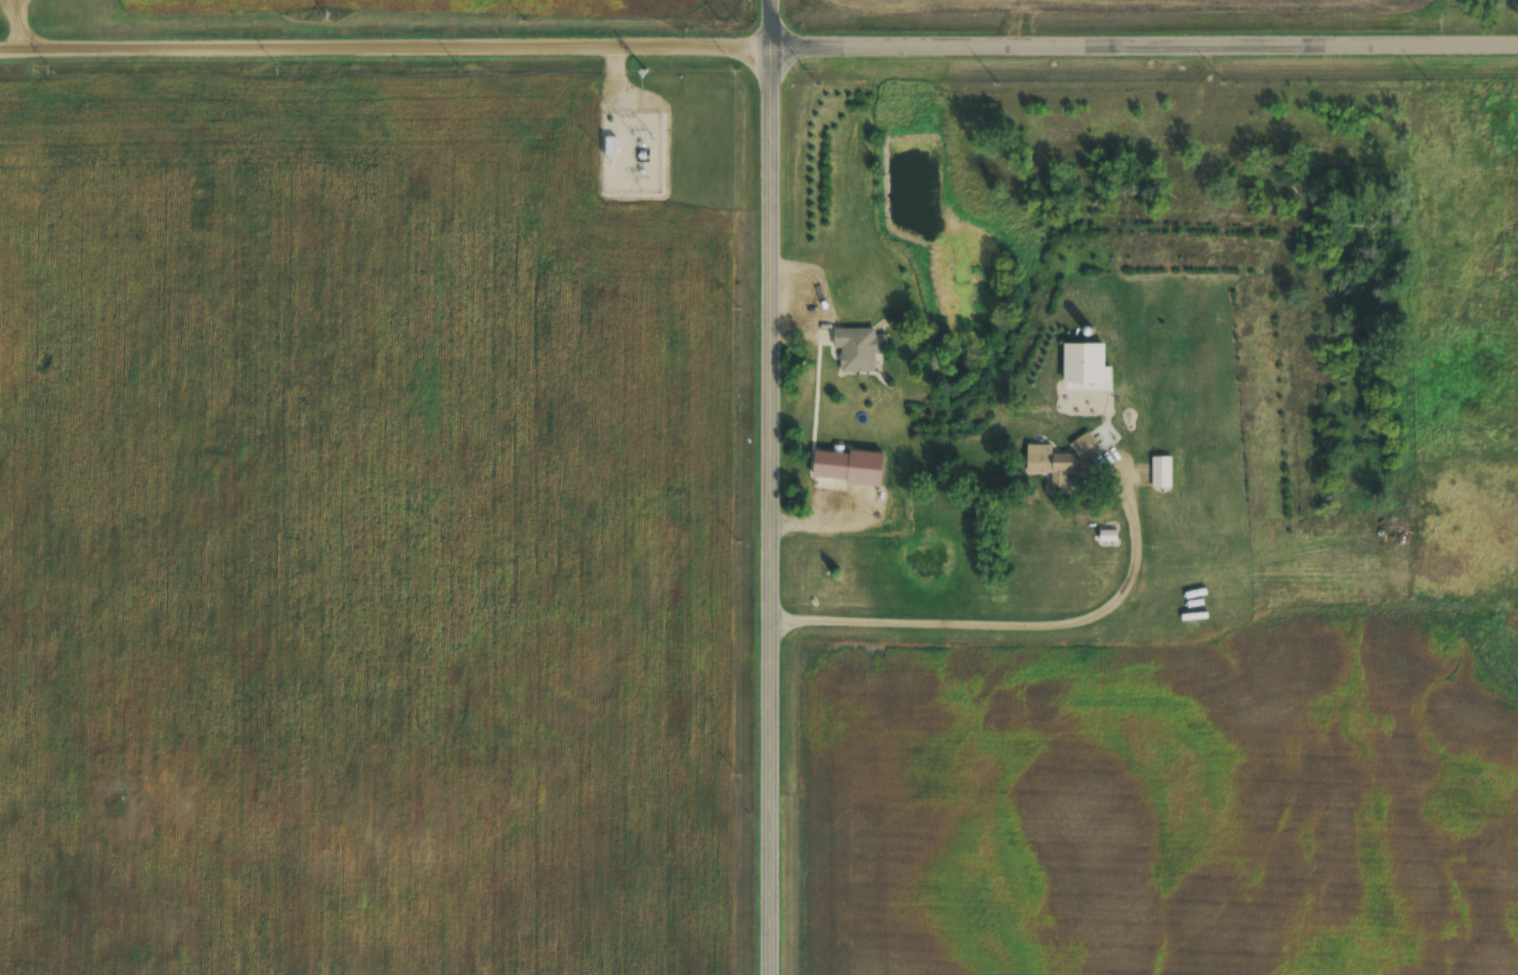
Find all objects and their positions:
road: (759, 50)
building: (857, 348)
building: (1087, 362)
building: (1060, 457)
building: (831, 464)
building: (1161, 472)
road: (774, 487)

